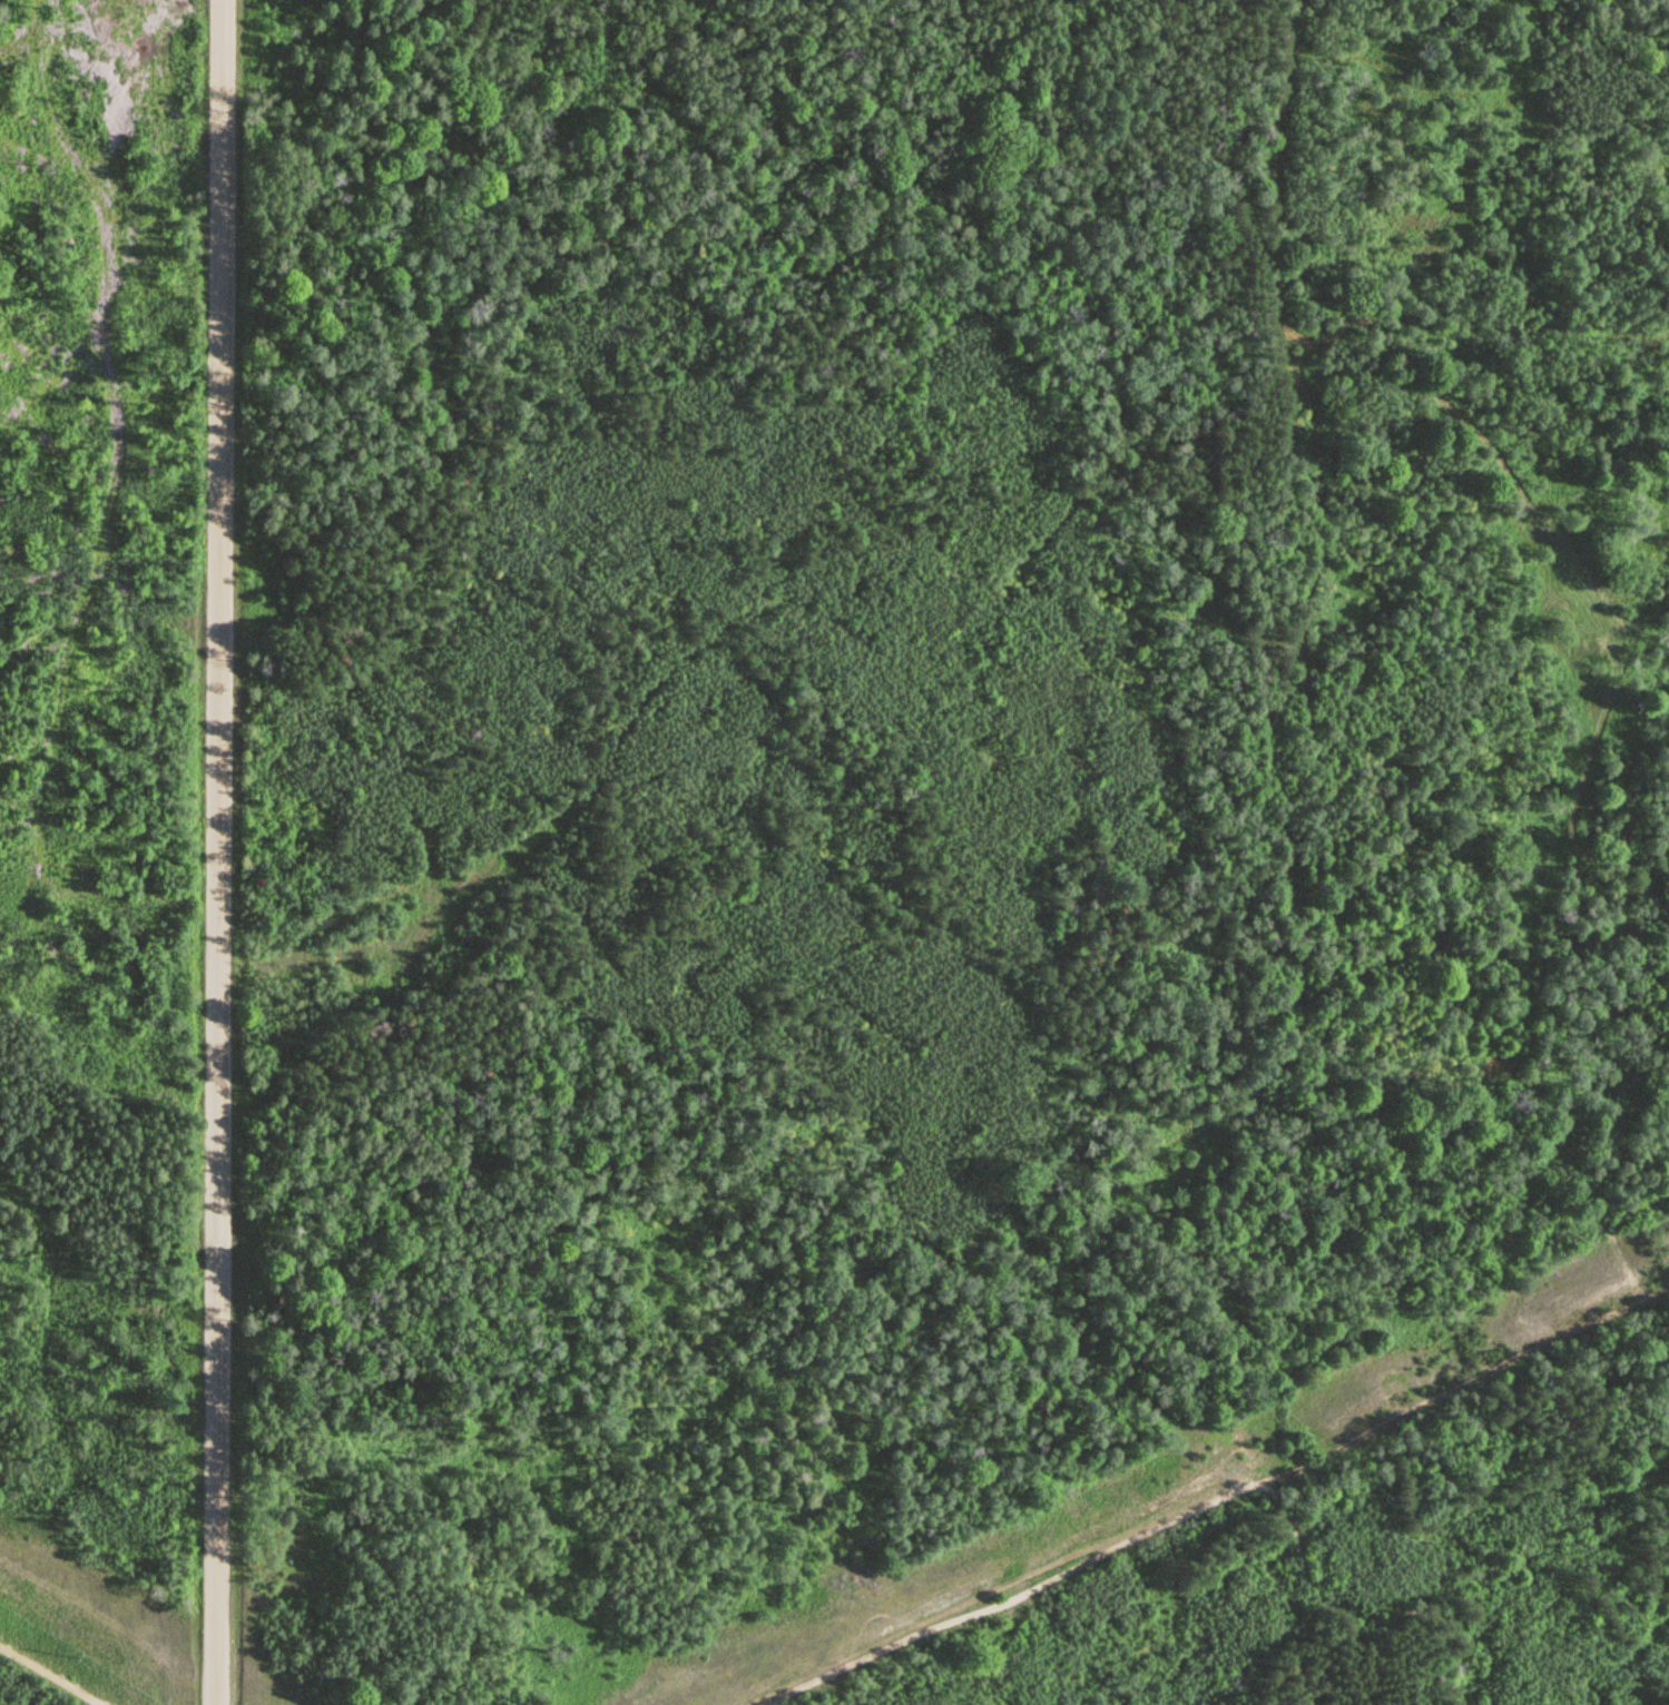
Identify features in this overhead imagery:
road: (217, 851)
road: (1475, 1381)
road: (1255, 1486)
road: (49, 1676)

